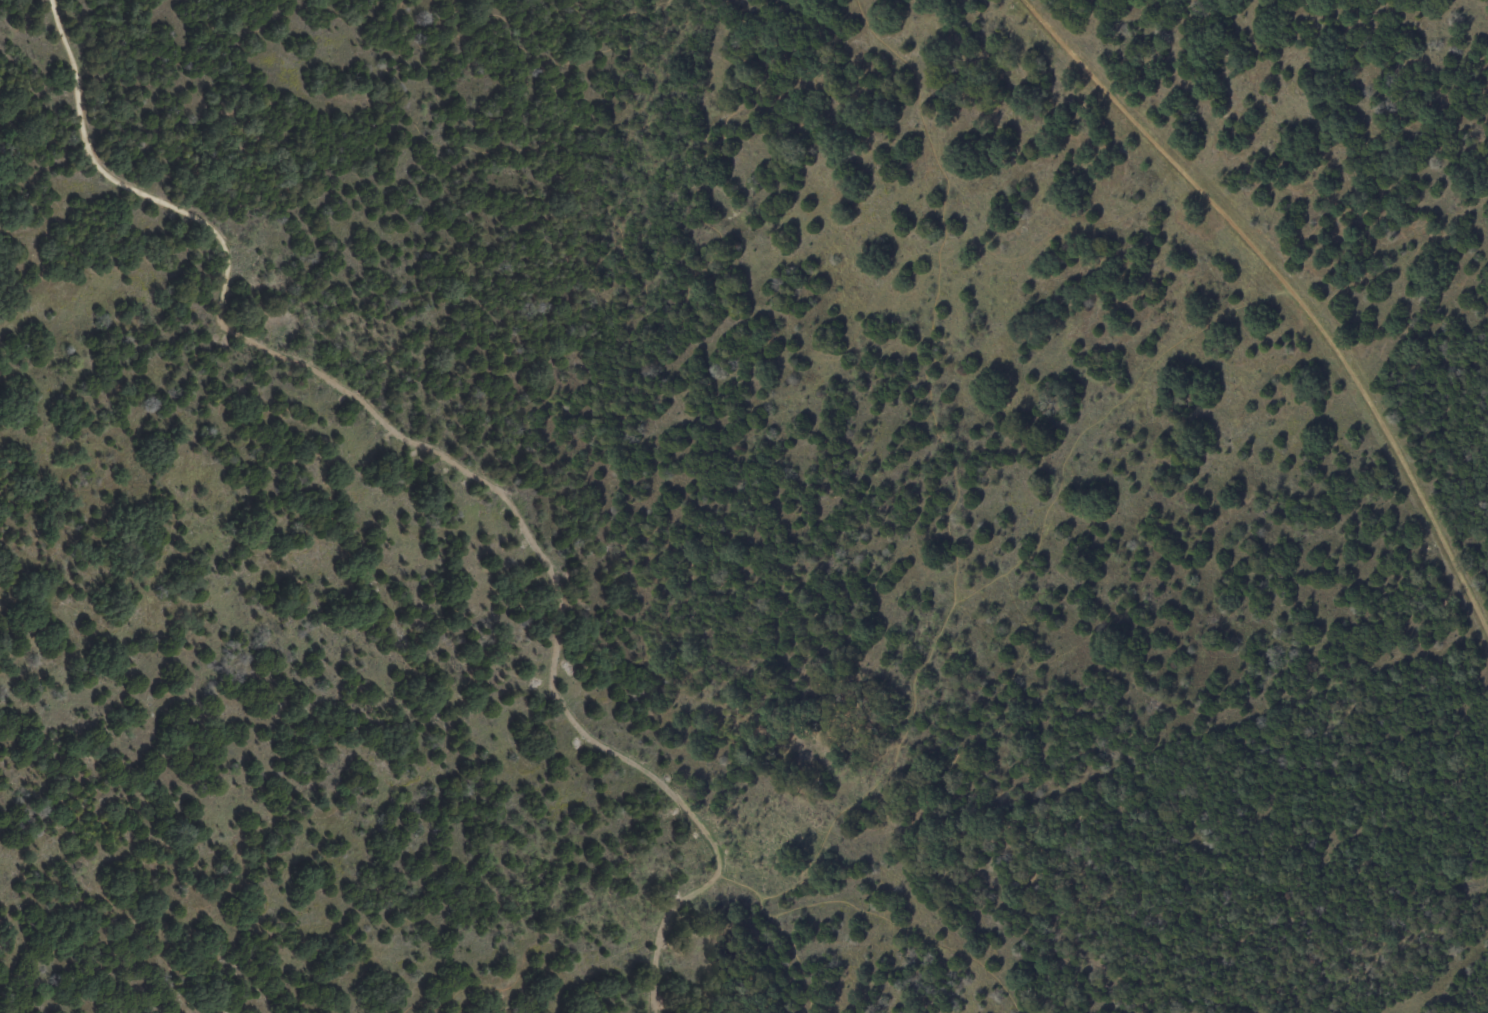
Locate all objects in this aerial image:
road: (546, 71)
road: (1394, 263)
road: (1282, 305)
road: (1096, 419)
road: (953, 469)
road: (466, 471)
park: (744, 506)
road: (758, 901)
road: (919, 939)
road: (22, 944)
road: (798, 962)
road: (502, 983)
road: (409, 1011)

